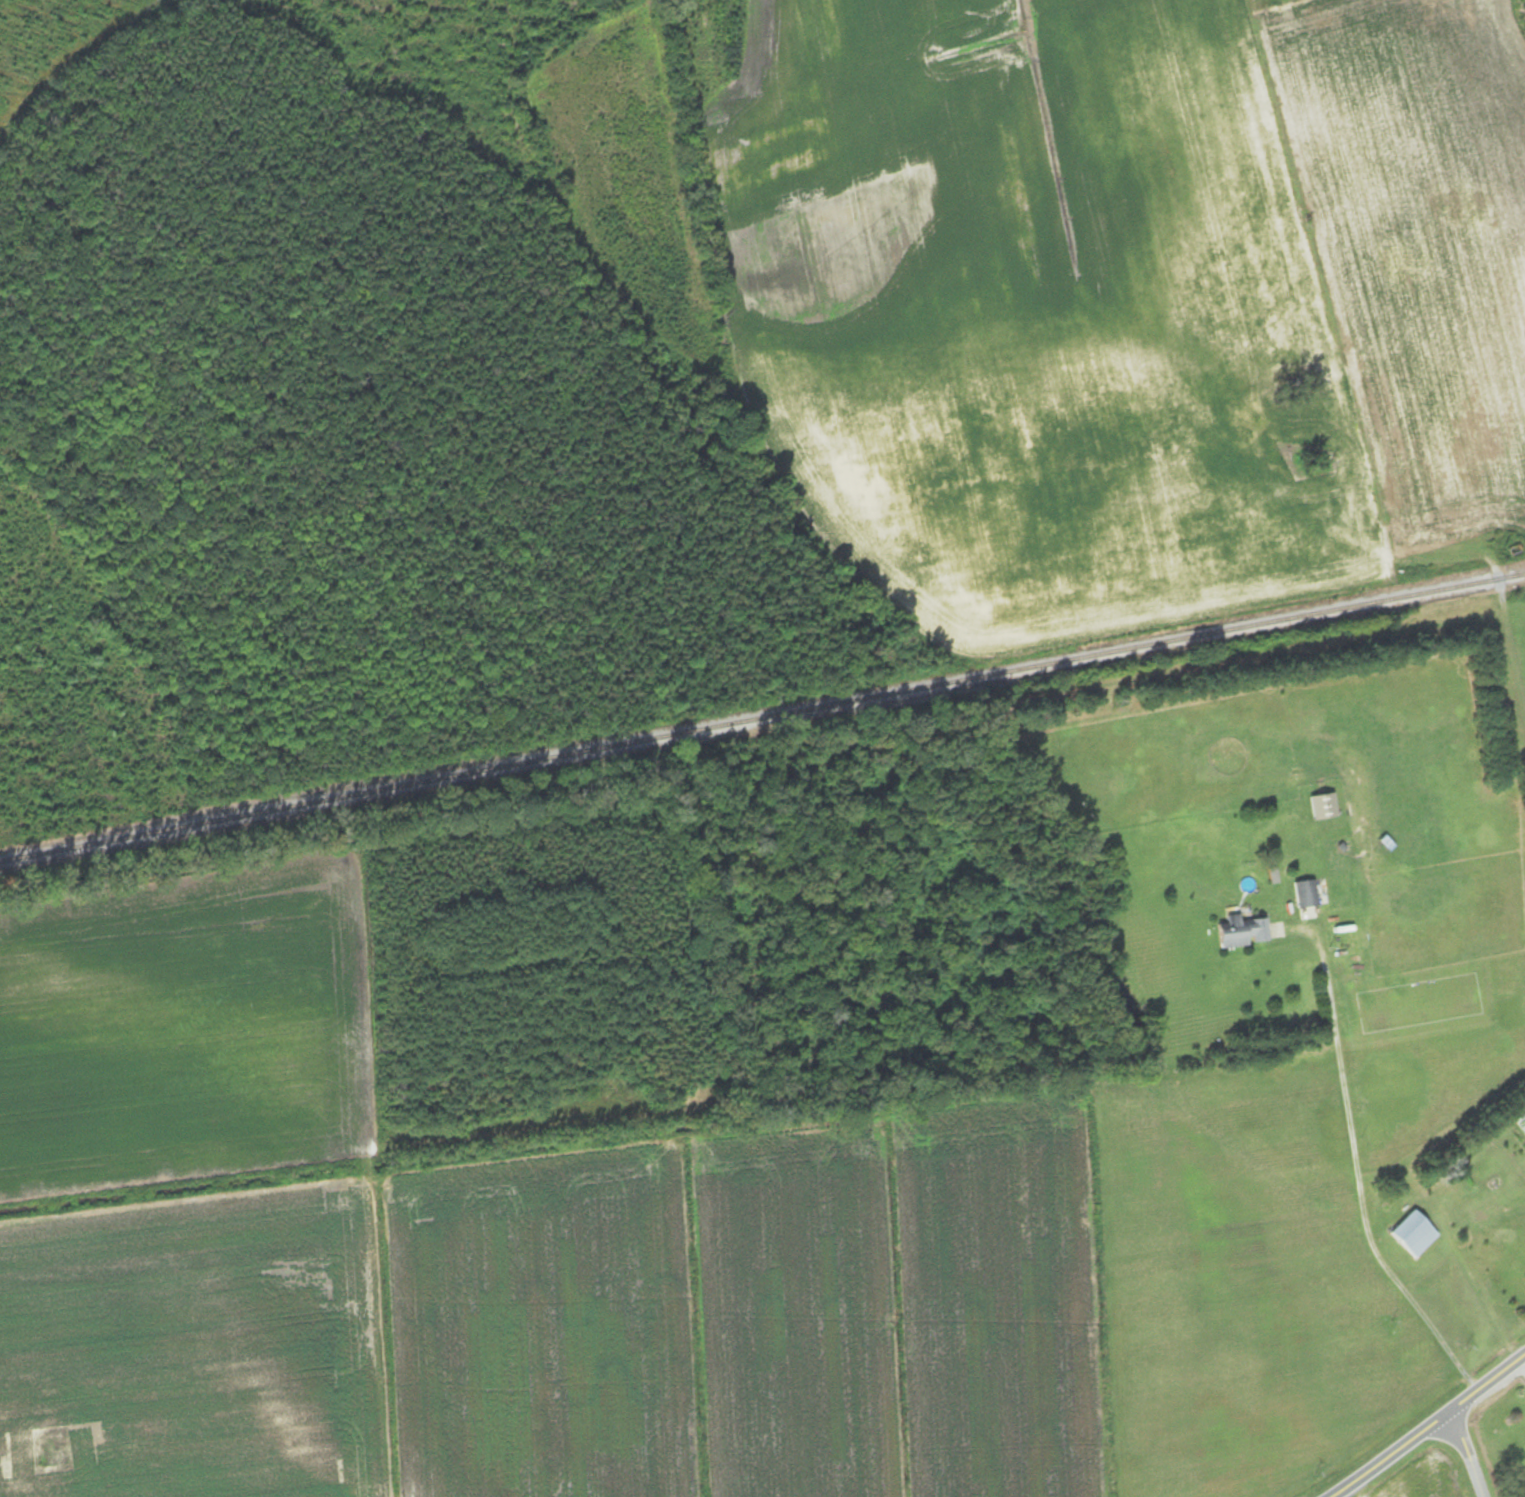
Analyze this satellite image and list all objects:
road: (1487, 510)
road: (1351, 570)
railway: (762, 717)
building: (1325, 807)
building: (1307, 894)
building: (1244, 932)
building: (1416, 1234)
road: (1428, 1428)
road: (1468, 1453)

